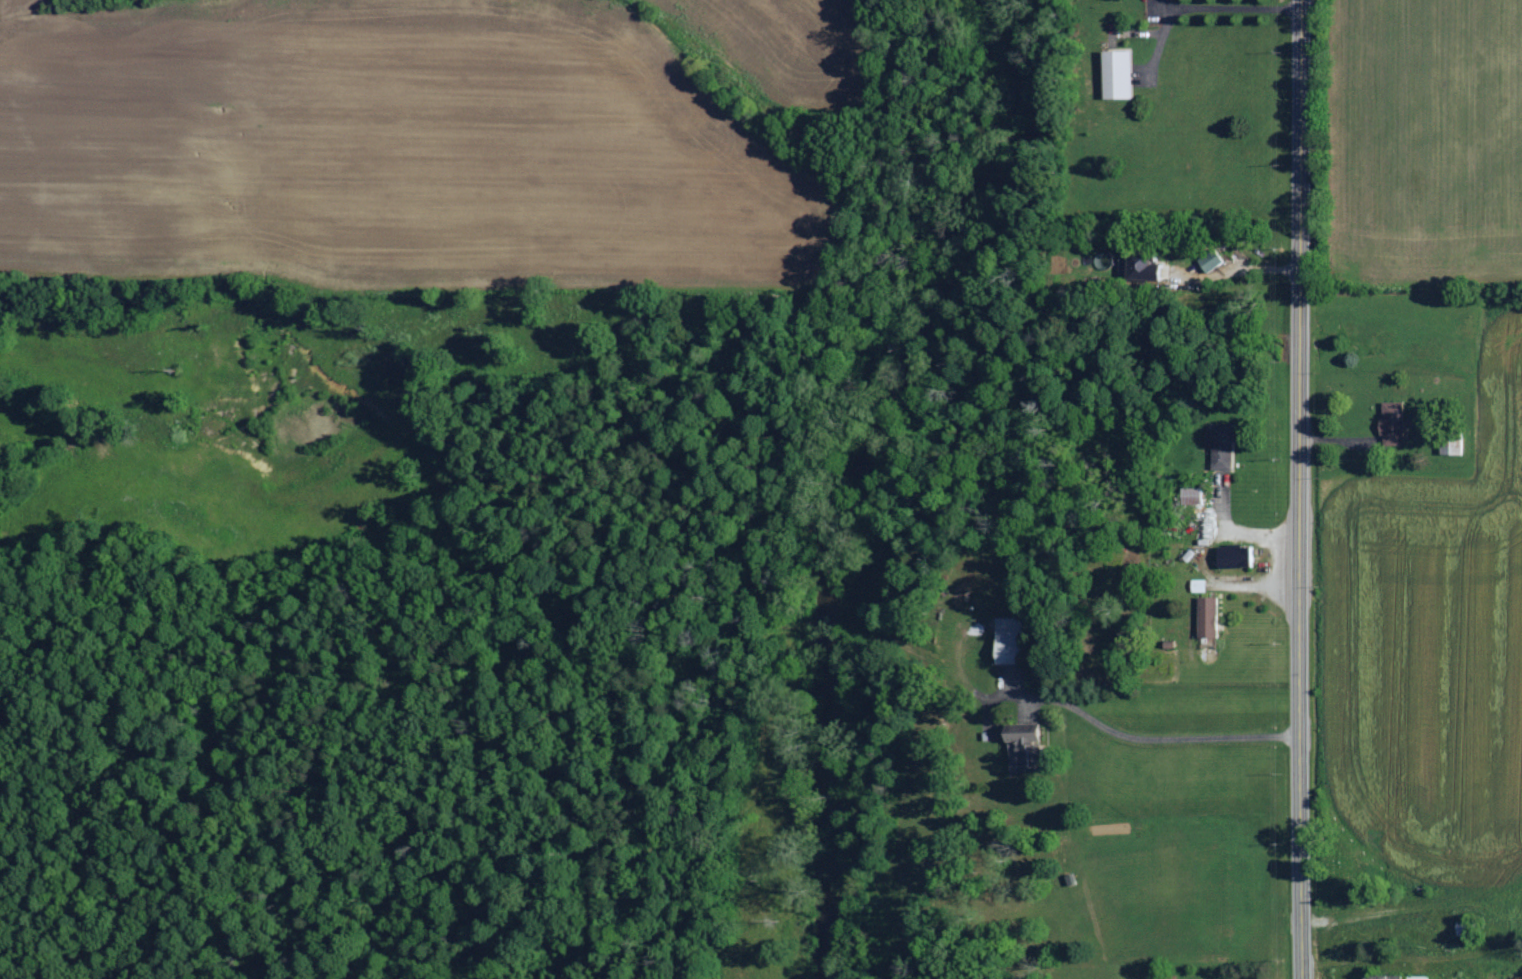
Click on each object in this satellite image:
road: (1231, 8)
building: (1116, 74)
building: (1208, 260)
road: (1228, 272)
building: (1391, 423)
building: (1450, 447)
building: (1221, 456)
river: (855, 469)
road: (1301, 489)
building: (1234, 556)
building: (1198, 585)
building: (1207, 617)
building: (1007, 641)
road: (1166, 729)
building: (1018, 738)
park: (1335, 874)
road: (1370, 958)
building: (1380, 977)
building: (1416, 977)

